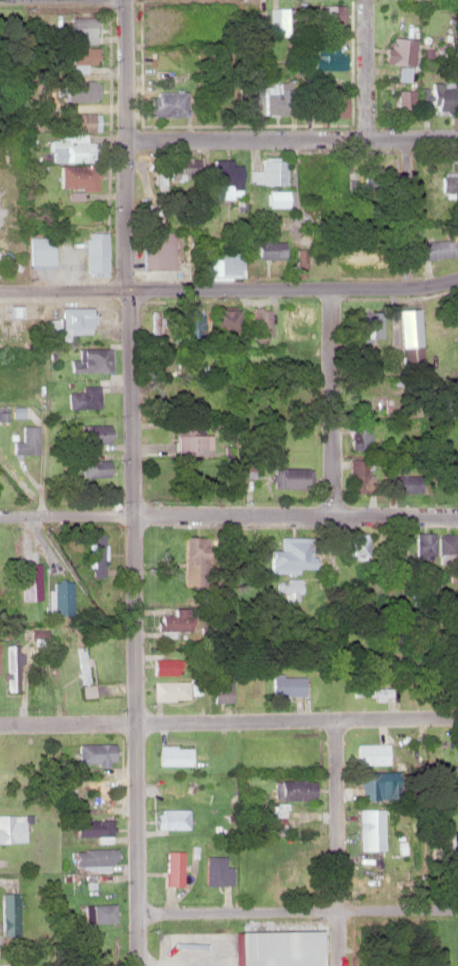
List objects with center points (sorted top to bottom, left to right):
building: (330, 14)
building: (289, 17)
building: (76, 29)
building: (445, 53)
building: (75, 54)
building: (326, 56)
building: (400, 56)
road: (366, 68)
building: (76, 90)
building: (439, 96)
building: (327, 98)
building: (247, 99)
building: (277, 100)
building: (406, 101)
building: (164, 102)
building: (75, 121)
road: (291, 137)
road: (125, 144)
building: (66, 148)
building: (316, 168)
building: (268, 172)
building: (75, 176)
building: (224, 177)
building: (449, 183)
building: (274, 198)
road: (407, 211)
building: (437, 248)
building: (160, 250)
building: (41, 251)
building: (96, 253)
building: (267, 253)
building: (353, 254)
building: (227, 265)
road: (293, 286)
road: (64, 289)
building: (227, 320)
building: (262, 322)
building: (297, 322)
building: (70, 323)
building: (194, 323)
building: (365, 325)
building: (410, 339)
building: (94, 359)
road: (46, 380)
building: (85, 396)
road: (331, 402)
building: (96, 434)
building: (361, 434)
building: (27, 441)
building: (191, 443)
building: (96, 468)
building: (359, 476)
building: (290, 477)
building: (403, 482)
road: (228, 516)
building: (425, 544)
building: (447, 544)
building: (359, 546)
building: (97, 552)
building: (290, 554)
building: (194, 560)
building: (32, 580)
building: (289, 588)
building: (63, 597)
building: (176, 619)
road: (134, 626)
building: (39, 636)
building: (164, 666)
building: (11, 667)
building: (84, 674)
building: (42, 678)
building: (288, 684)
building: (171, 689)
building: (222, 690)
building: (371, 691)
road: (229, 720)
building: (95, 753)
building: (371, 753)
building: (3, 754)
building: (174, 754)
building: (378, 784)
building: (291, 788)
building: (185, 791)
building: (96, 792)
building: (172, 817)
building: (93, 827)
building: (12, 828)
building: (369, 829)
building: (454, 839)
road: (336, 842)
building: (94, 857)
building: (173, 867)
building: (215, 870)
road: (397, 908)
road: (236, 909)
building: (99, 912)
building: (10, 913)
building: (273, 948)
building: (19, 964)

